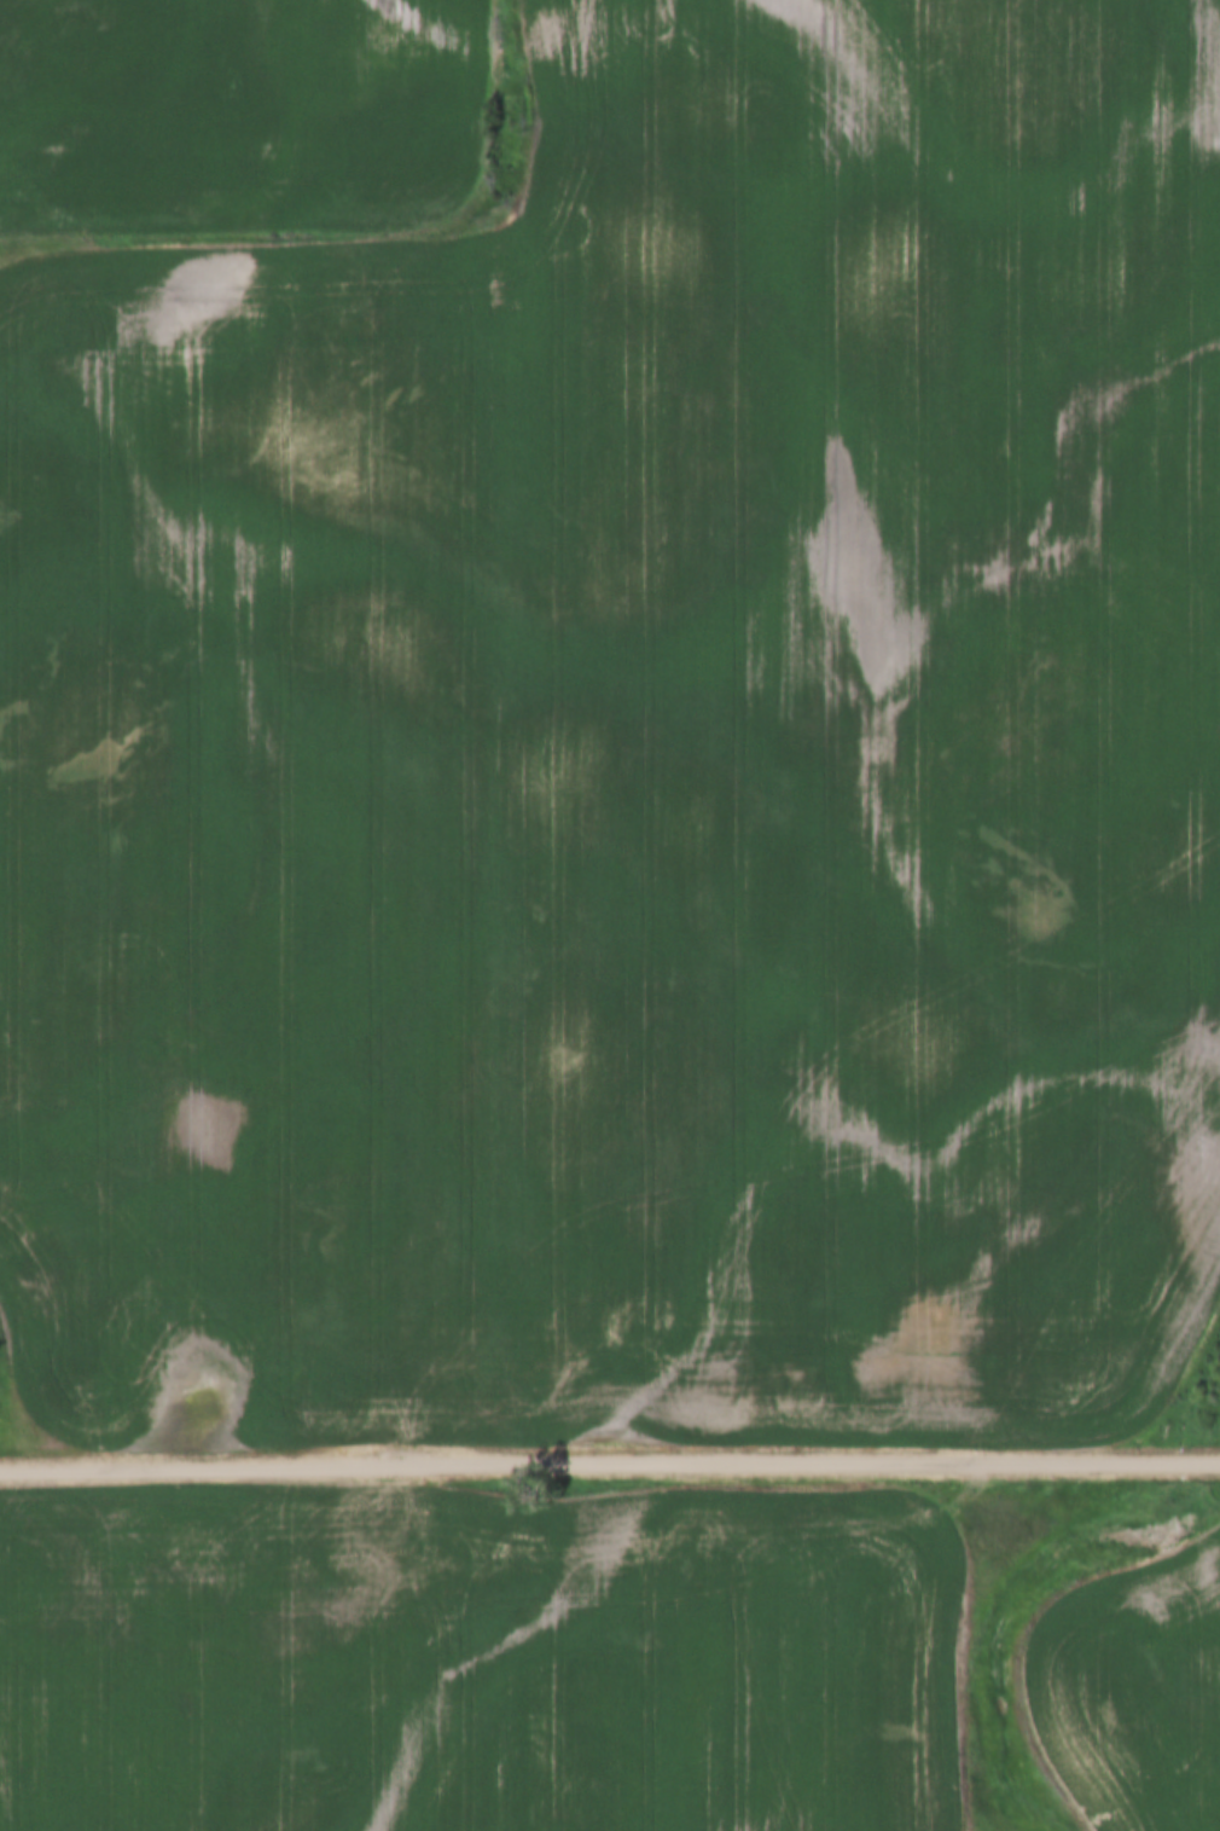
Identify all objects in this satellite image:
road: (610, 1460)

